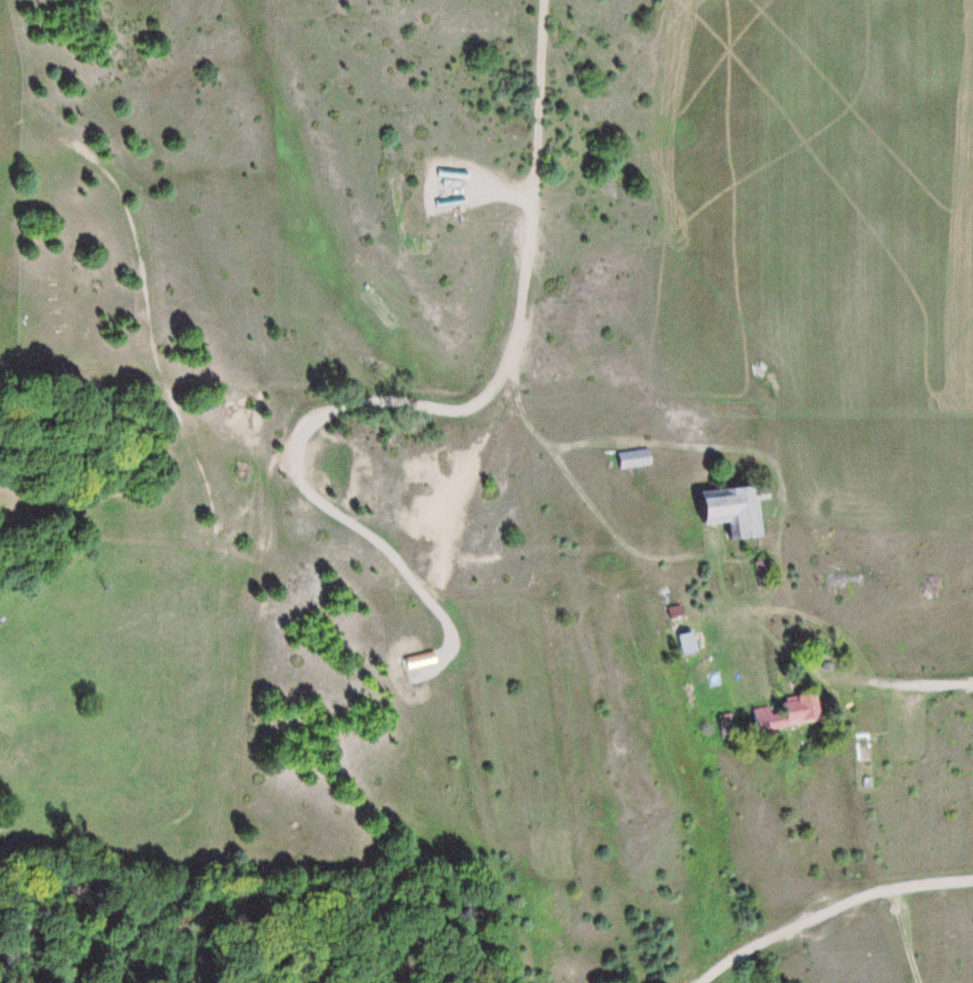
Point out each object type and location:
building: (636, 457)
building: (736, 508)
road: (923, 682)

